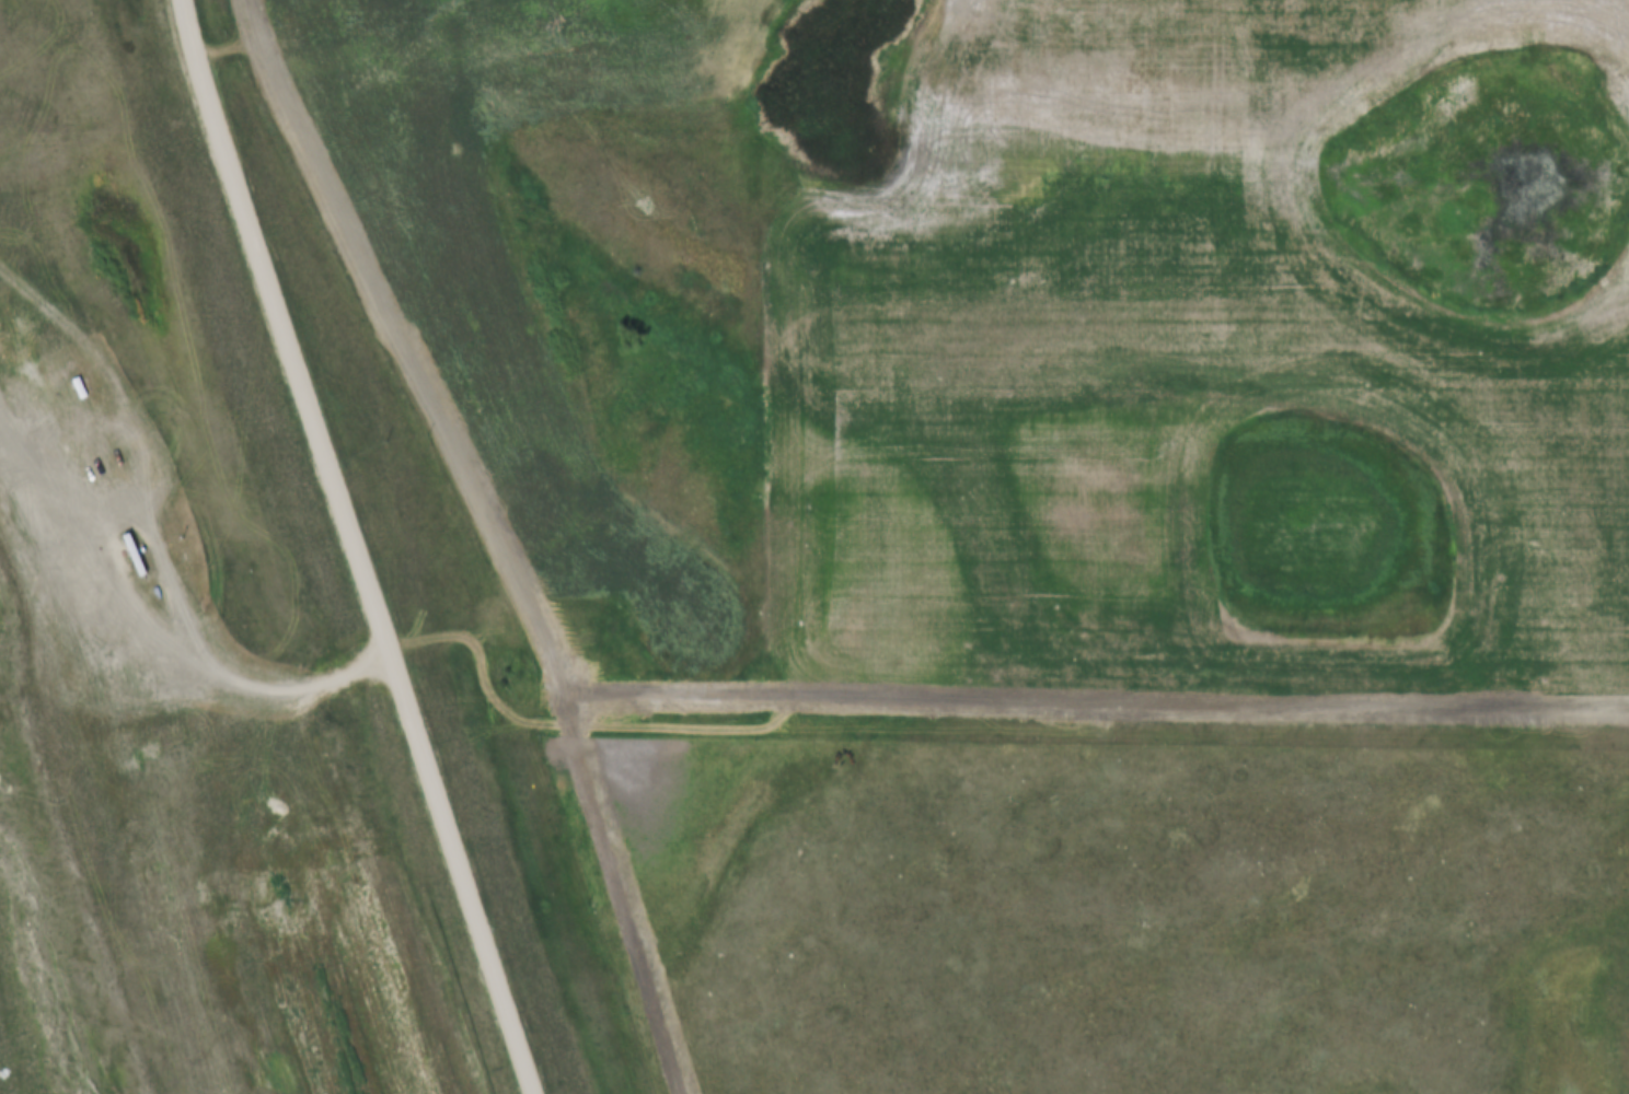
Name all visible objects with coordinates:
road: (362, 547)
road: (887, 744)

